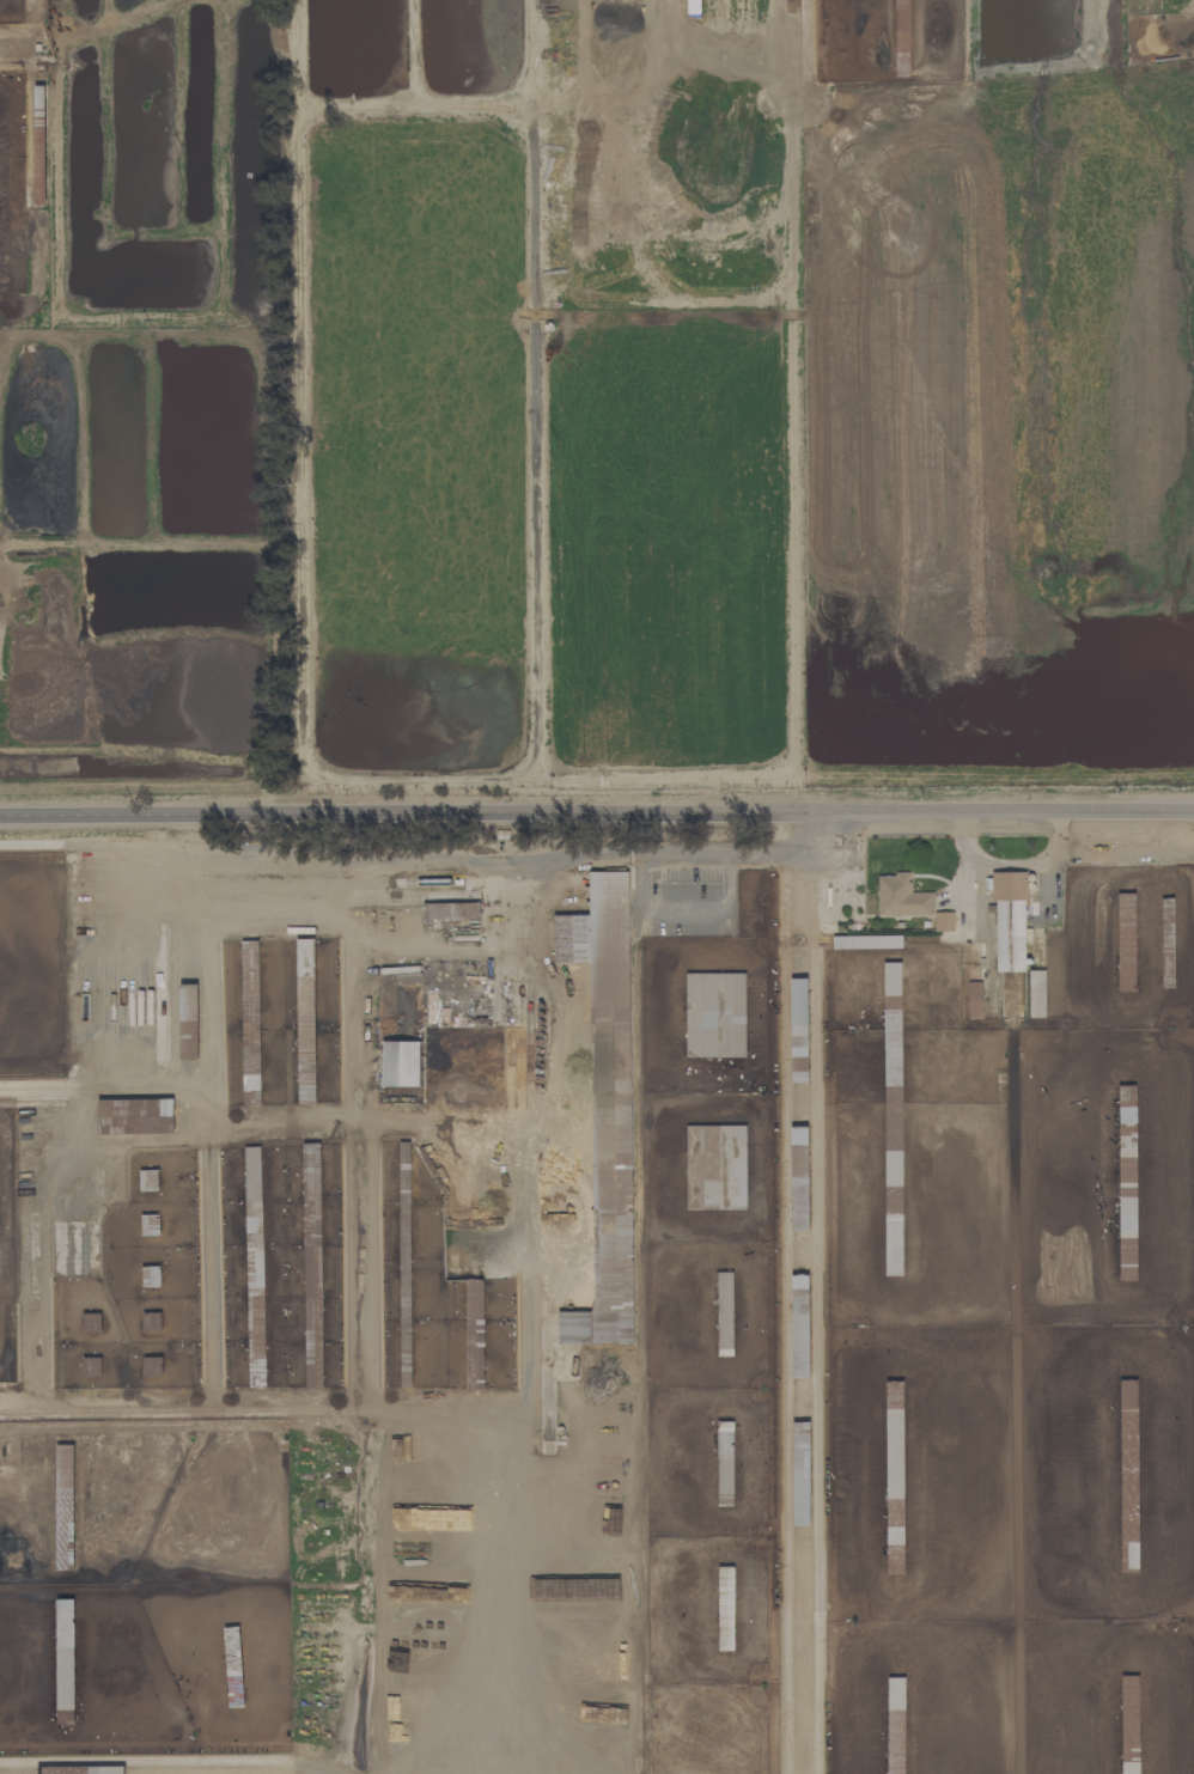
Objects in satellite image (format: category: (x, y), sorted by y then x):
road: (597, 813)
road: (424, 852)
road: (1006, 866)
road: (971, 894)
building: (901, 896)
building: (1010, 921)
building: (866, 941)
road: (425, 949)
building: (1036, 993)
building: (715, 1014)
building: (189, 1020)
building: (305, 1020)
building: (250, 1023)
building: (799, 1029)
building: (401, 1063)
road: (158, 1079)
building: (607, 1105)
building: (136, 1116)
building: (894, 1118)
building: (715, 1166)
building: (148, 1179)
building: (1127, 1190)
building: (312, 1205)
building: (91, 1322)
building: (152, 1322)
building: (724, 1327)
building: (475, 1334)
building: (91, 1366)
building: (152, 1366)
building: (725, 1463)
building: (896, 1493)
building: (65, 1662)
building: (106, 1769)

